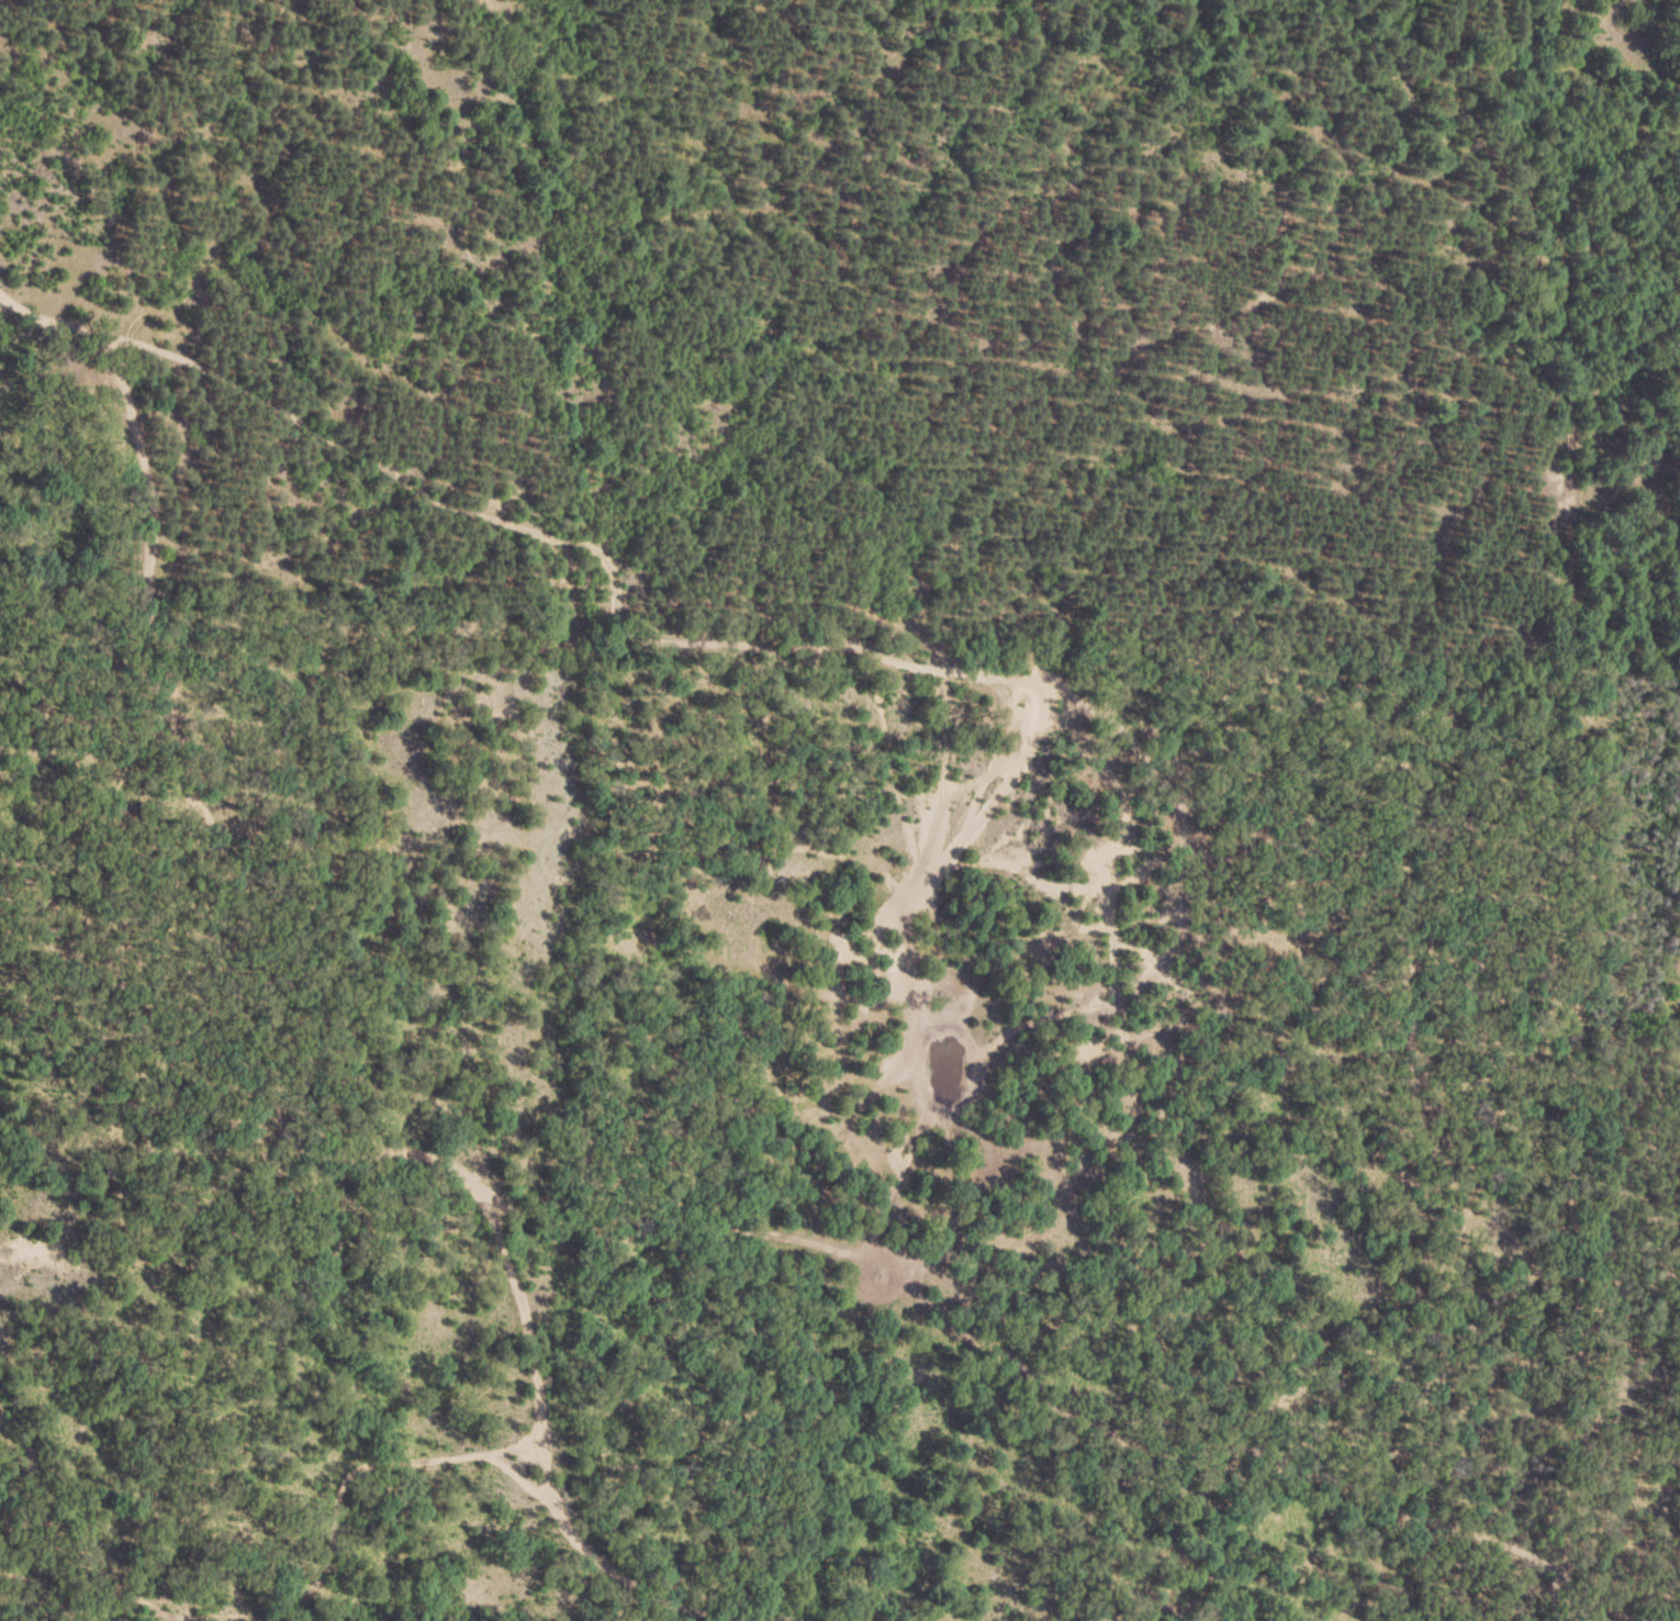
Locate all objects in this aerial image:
road: (1583, 807)

